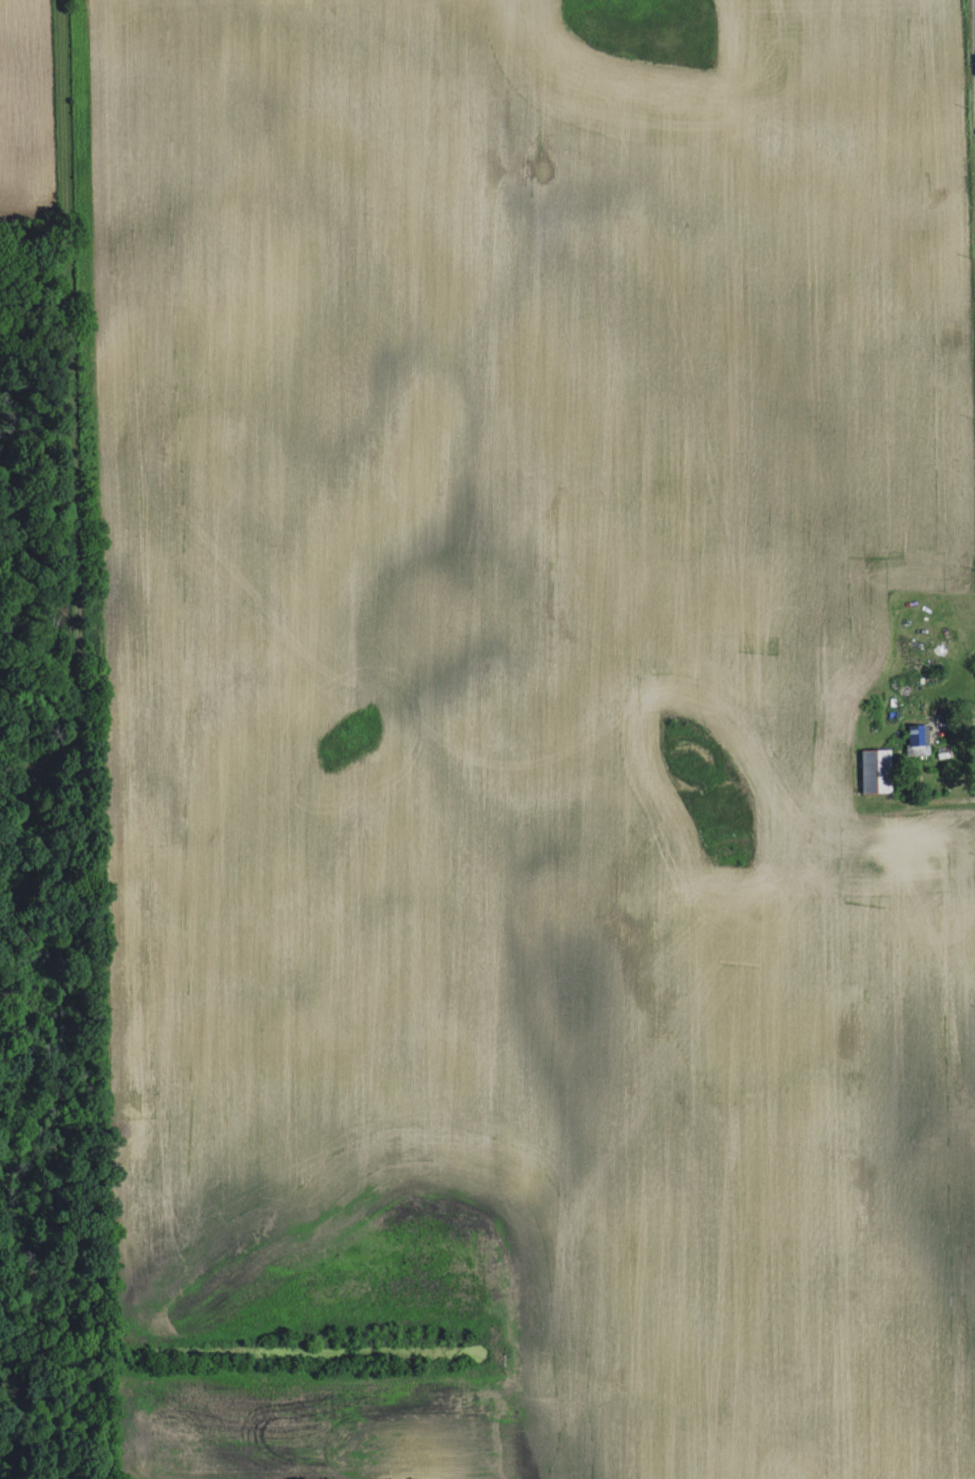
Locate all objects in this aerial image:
building: (919, 740)
building: (877, 772)

